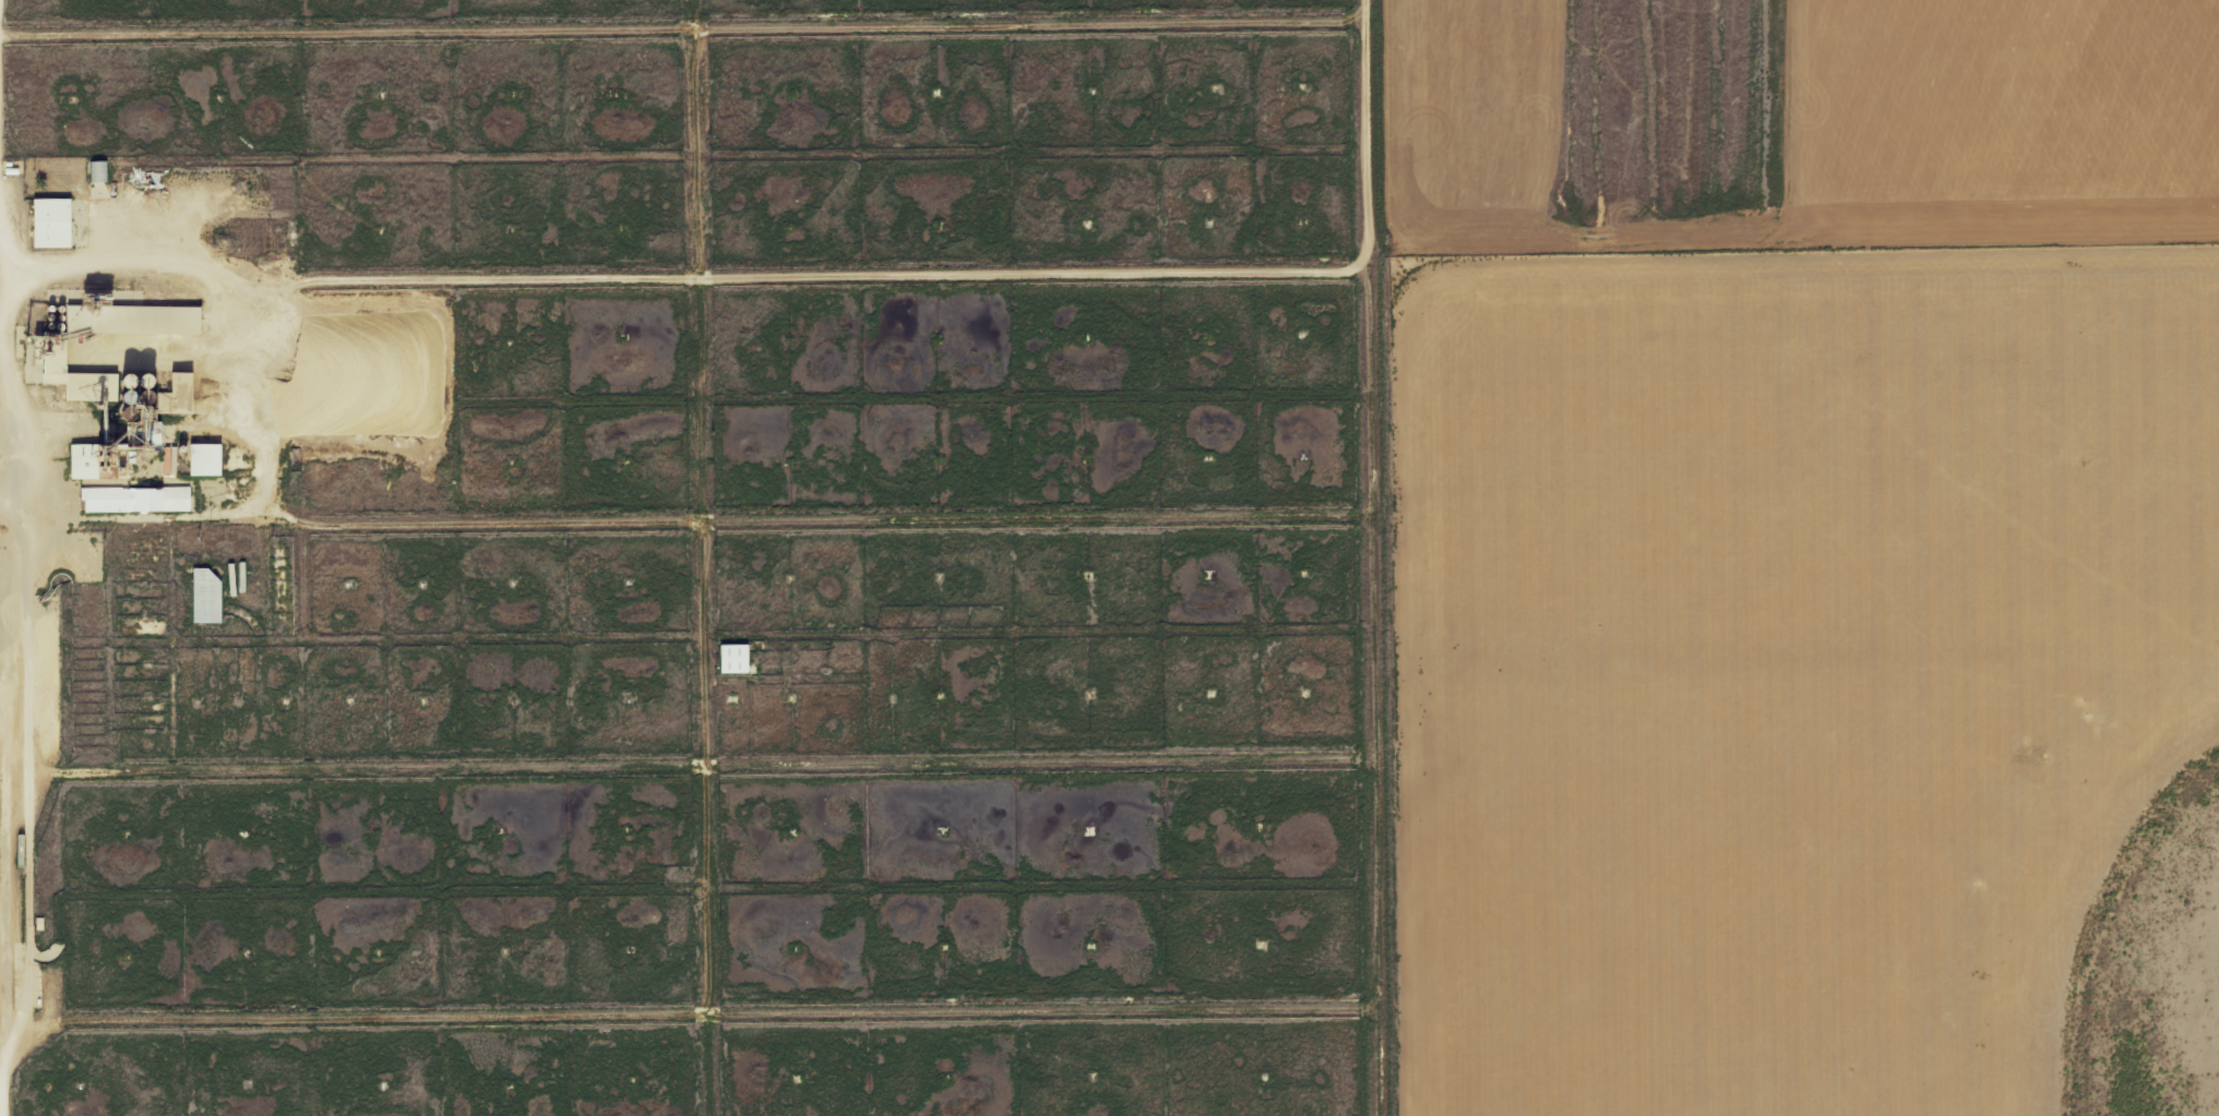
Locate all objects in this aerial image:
building: (55, 223)
building: (207, 459)
building: (87, 461)
road: (12, 476)
building: (139, 500)
road: (701, 557)
road: (1365, 557)
building: (207, 596)
building: (736, 659)
road: (1, 994)

